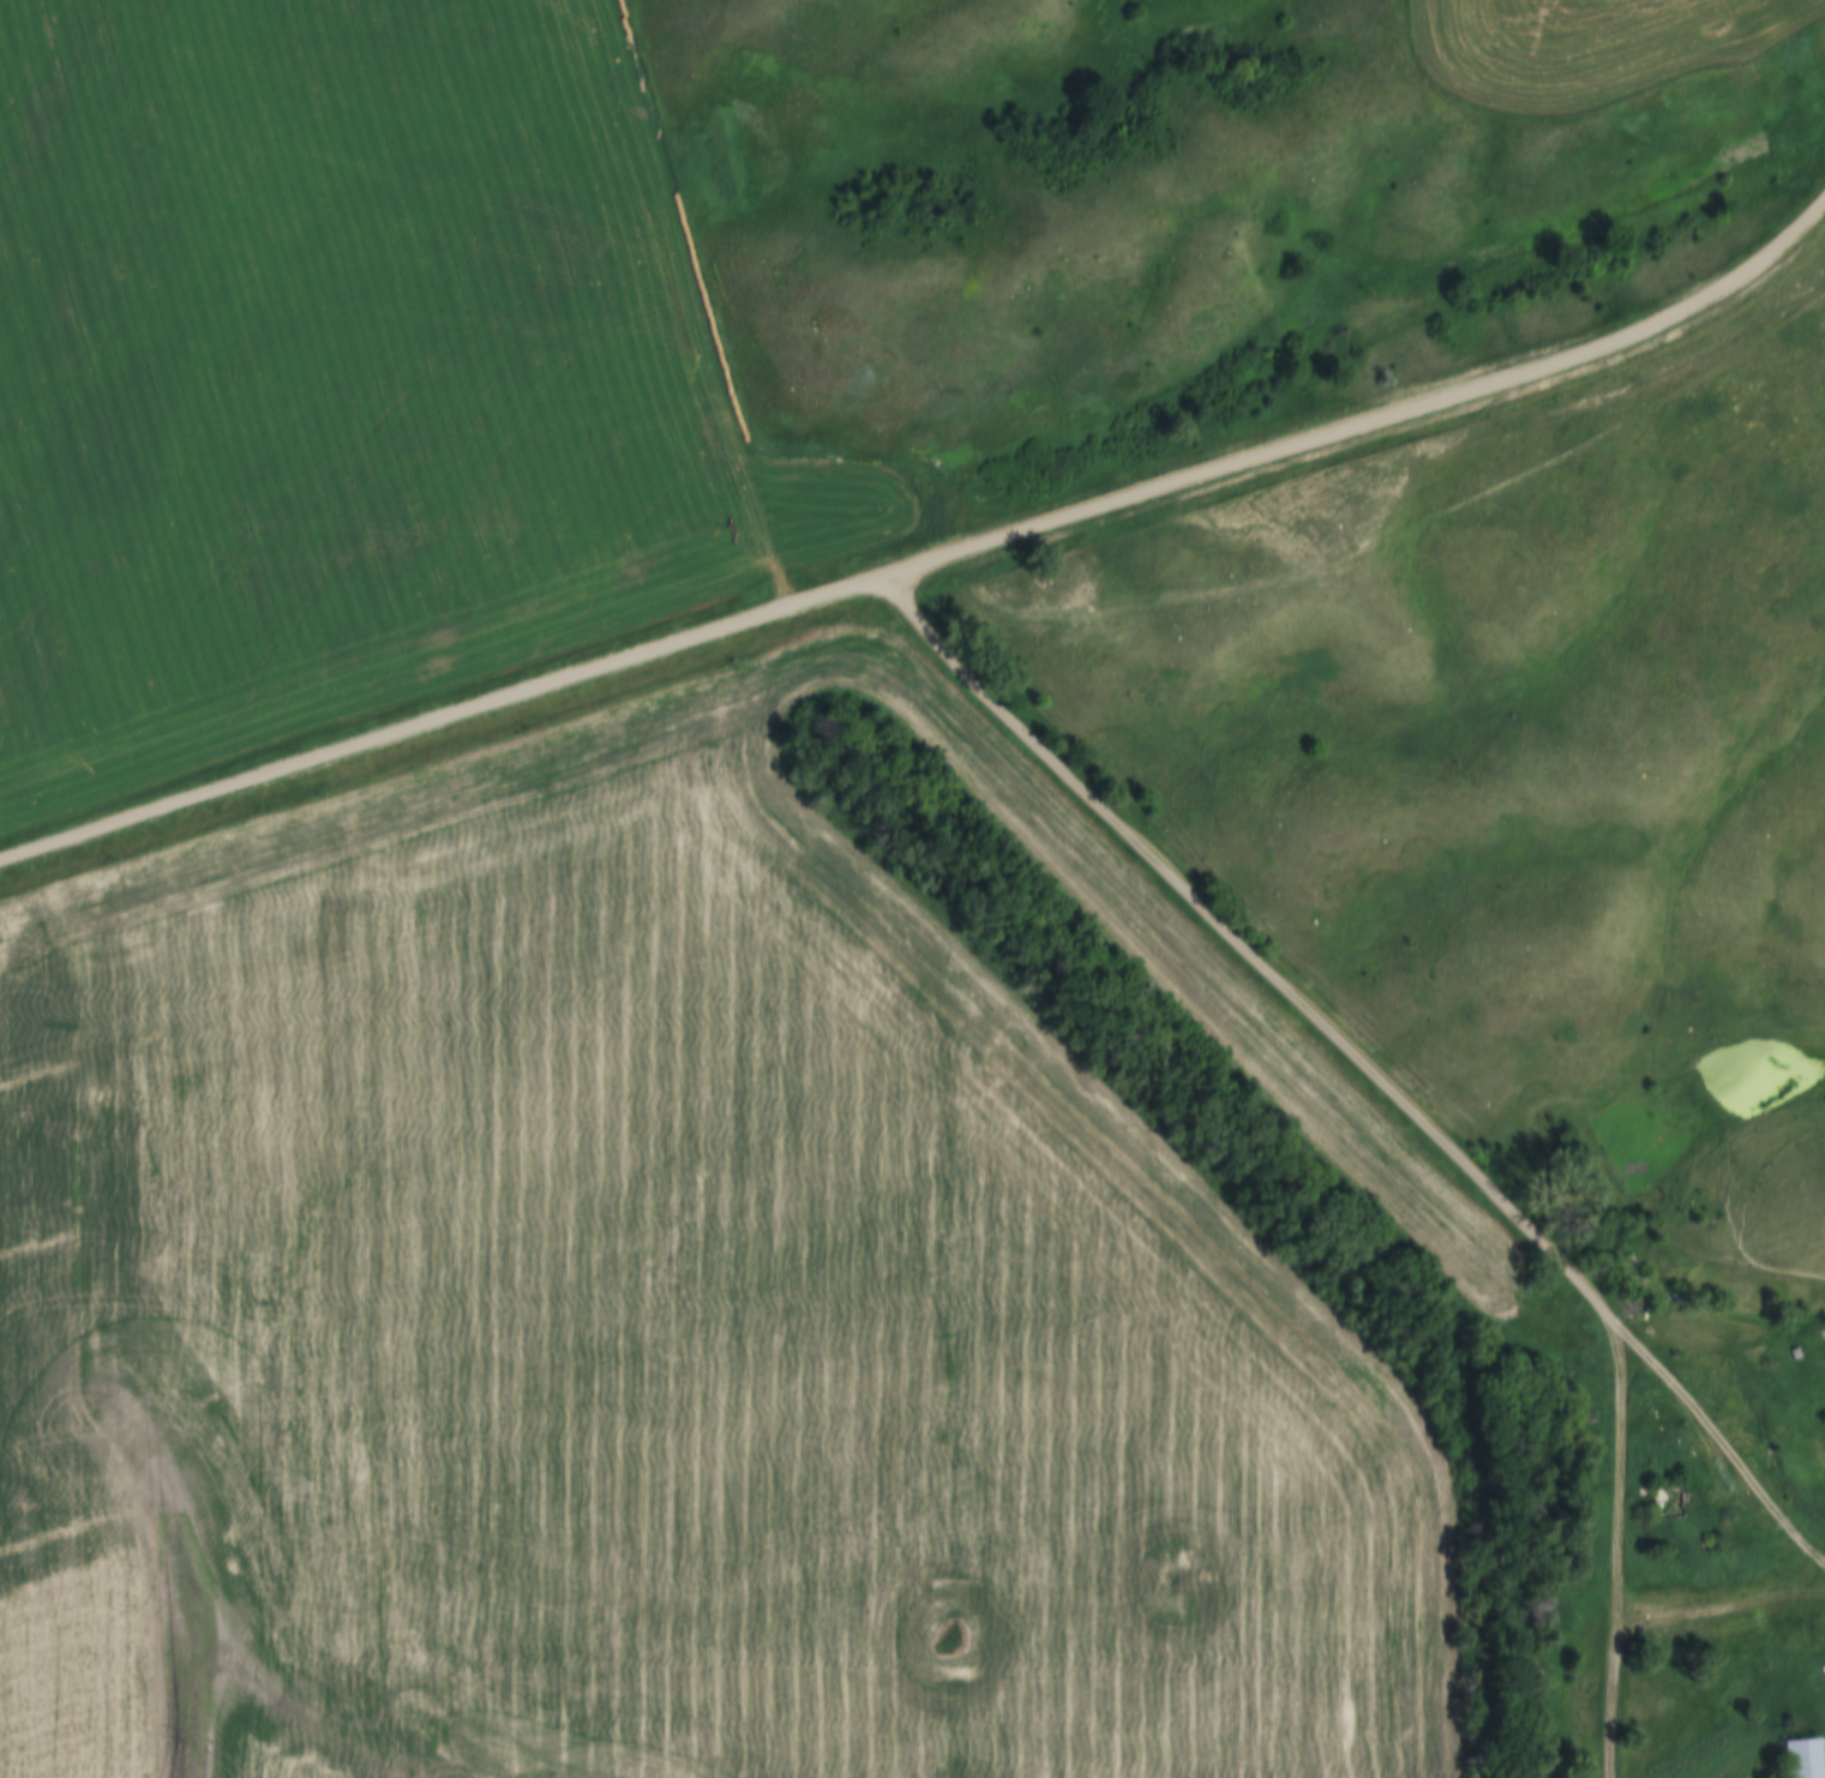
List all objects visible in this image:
road: (930, 560)
road: (1362, 1064)
building: (1801, 1352)
building: (1721, 1377)
building: (1663, 1498)
road: (1615, 1546)
building: (1776, 1635)
silo: (1776, 1635)
building: (1746, 1636)
building: (1799, 1758)

